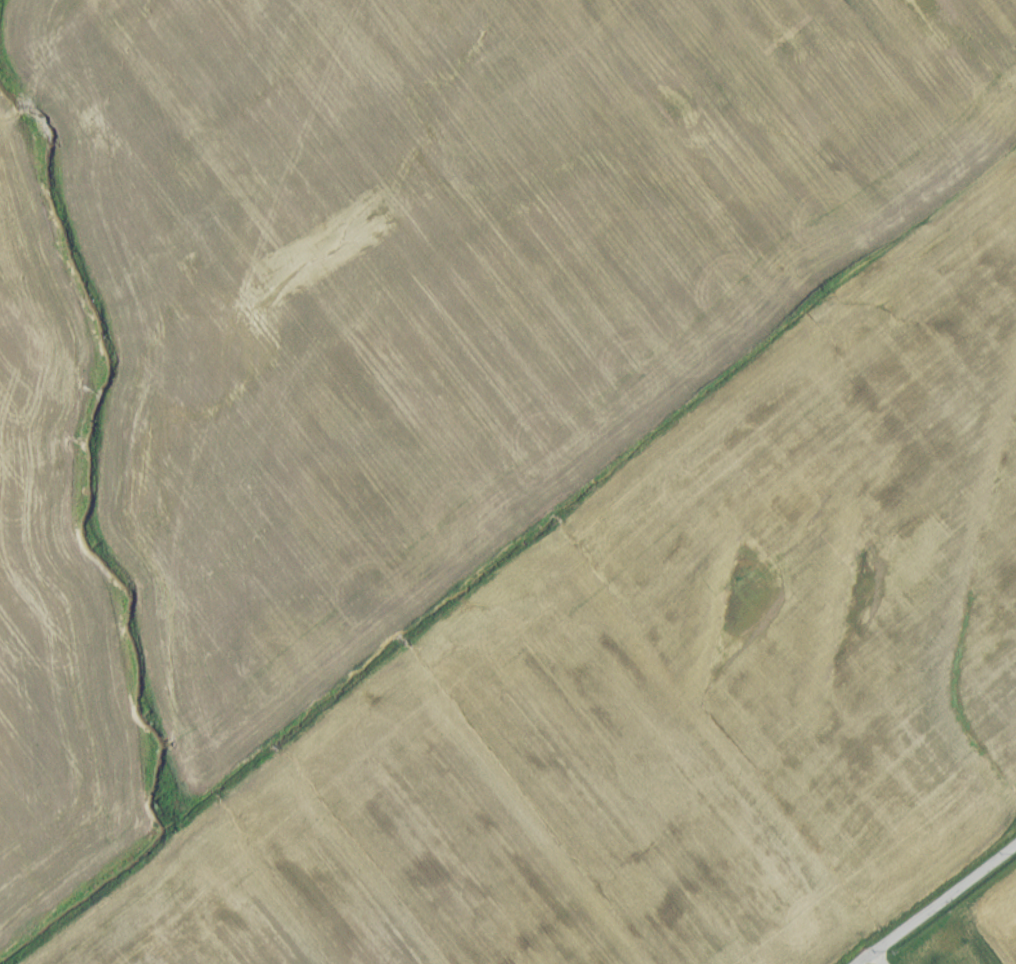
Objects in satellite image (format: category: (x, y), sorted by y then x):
road: (939, 905)

